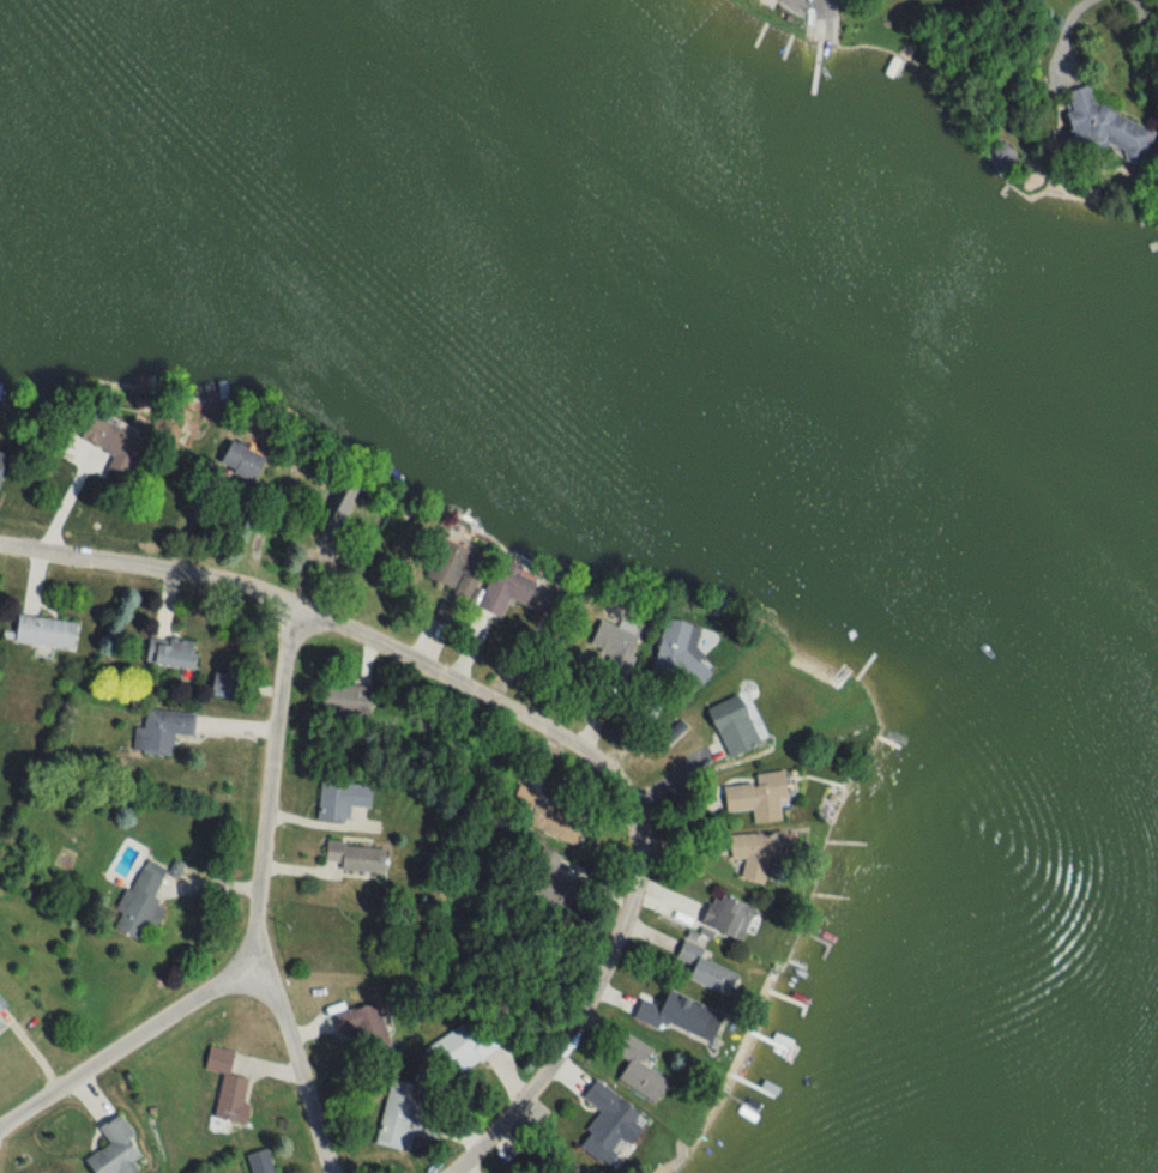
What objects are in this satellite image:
road: (812, 2)
road: (1059, 36)
building: (1103, 128)
building: (109, 448)
building: (229, 462)
building: (444, 567)
building: (496, 588)
building: (40, 634)
building: (608, 647)
building: (163, 653)
building: (211, 685)
building: (337, 699)
road: (531, 719)
building: (724, 726)
building: (156, 731)
road: (266, 780)
building: (750, 793)
building: (336, 799)
building: (545, 817)
building: (744, 854)
building: (349, 858)
building: (541, 873)
building: (137, 900)
building: (720, 918)
building: (699, 969)
building: (0, 1005)
building: (669, 1015)
building: (348, 1020)
road: (122, 1041)
building: (457, 1047)
building: (631, 1062)
road: (298, 1063)
building: (224, 1087)
building: (398, 1120)
building: (604, 1121)
building: (109, 1149)
building: (255, 1161)

